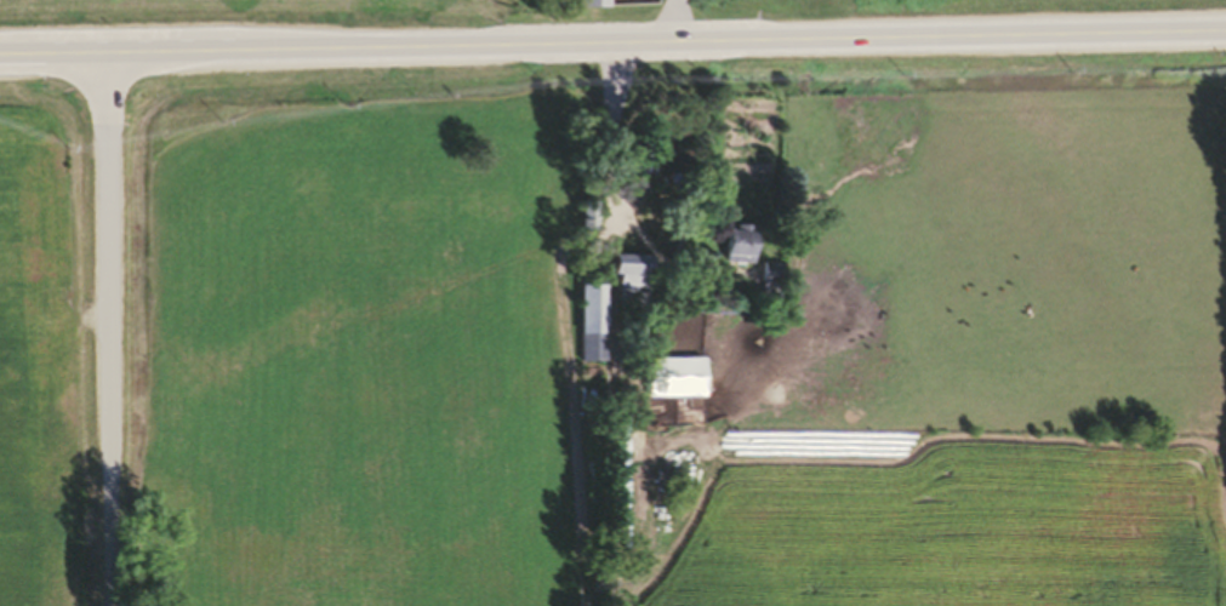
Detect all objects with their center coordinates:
crop: (916, 0)
building: (588, 7)
crop: (247, 12)
road: (675, 25)
road: (612, 52)
road: (604, 122)
building: (581, 225)
building: (740, 255)
building: (631, 291)
building: (588, 331)
road: (109, 333)
building: (674, 387)

